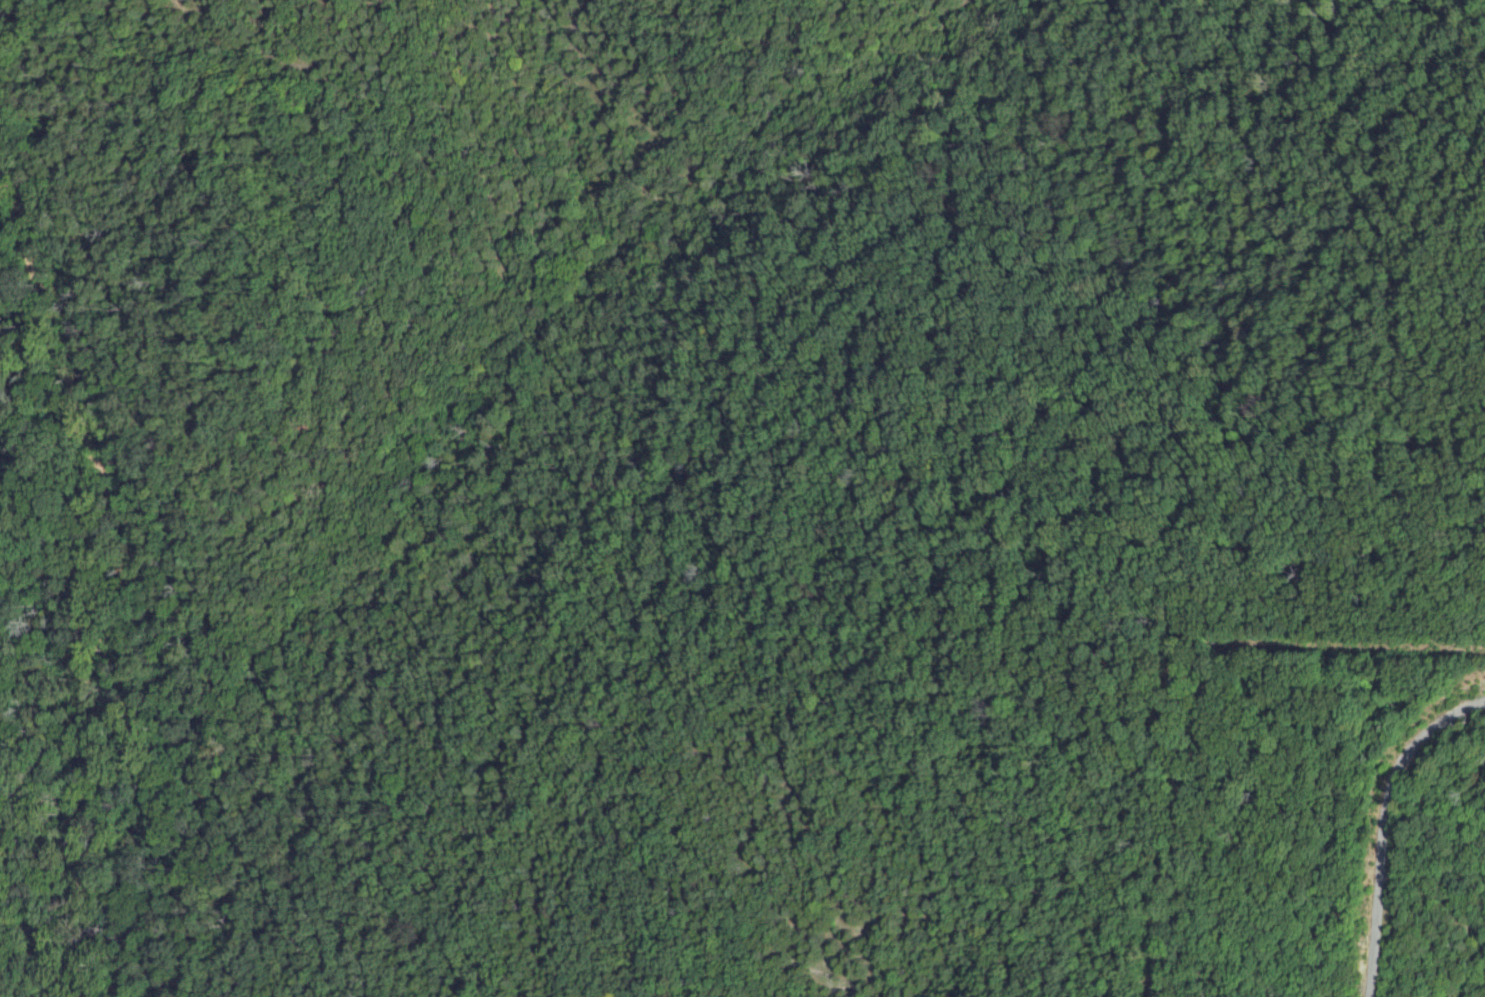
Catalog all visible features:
road: (1185, 648)
road: (1368, 807)

